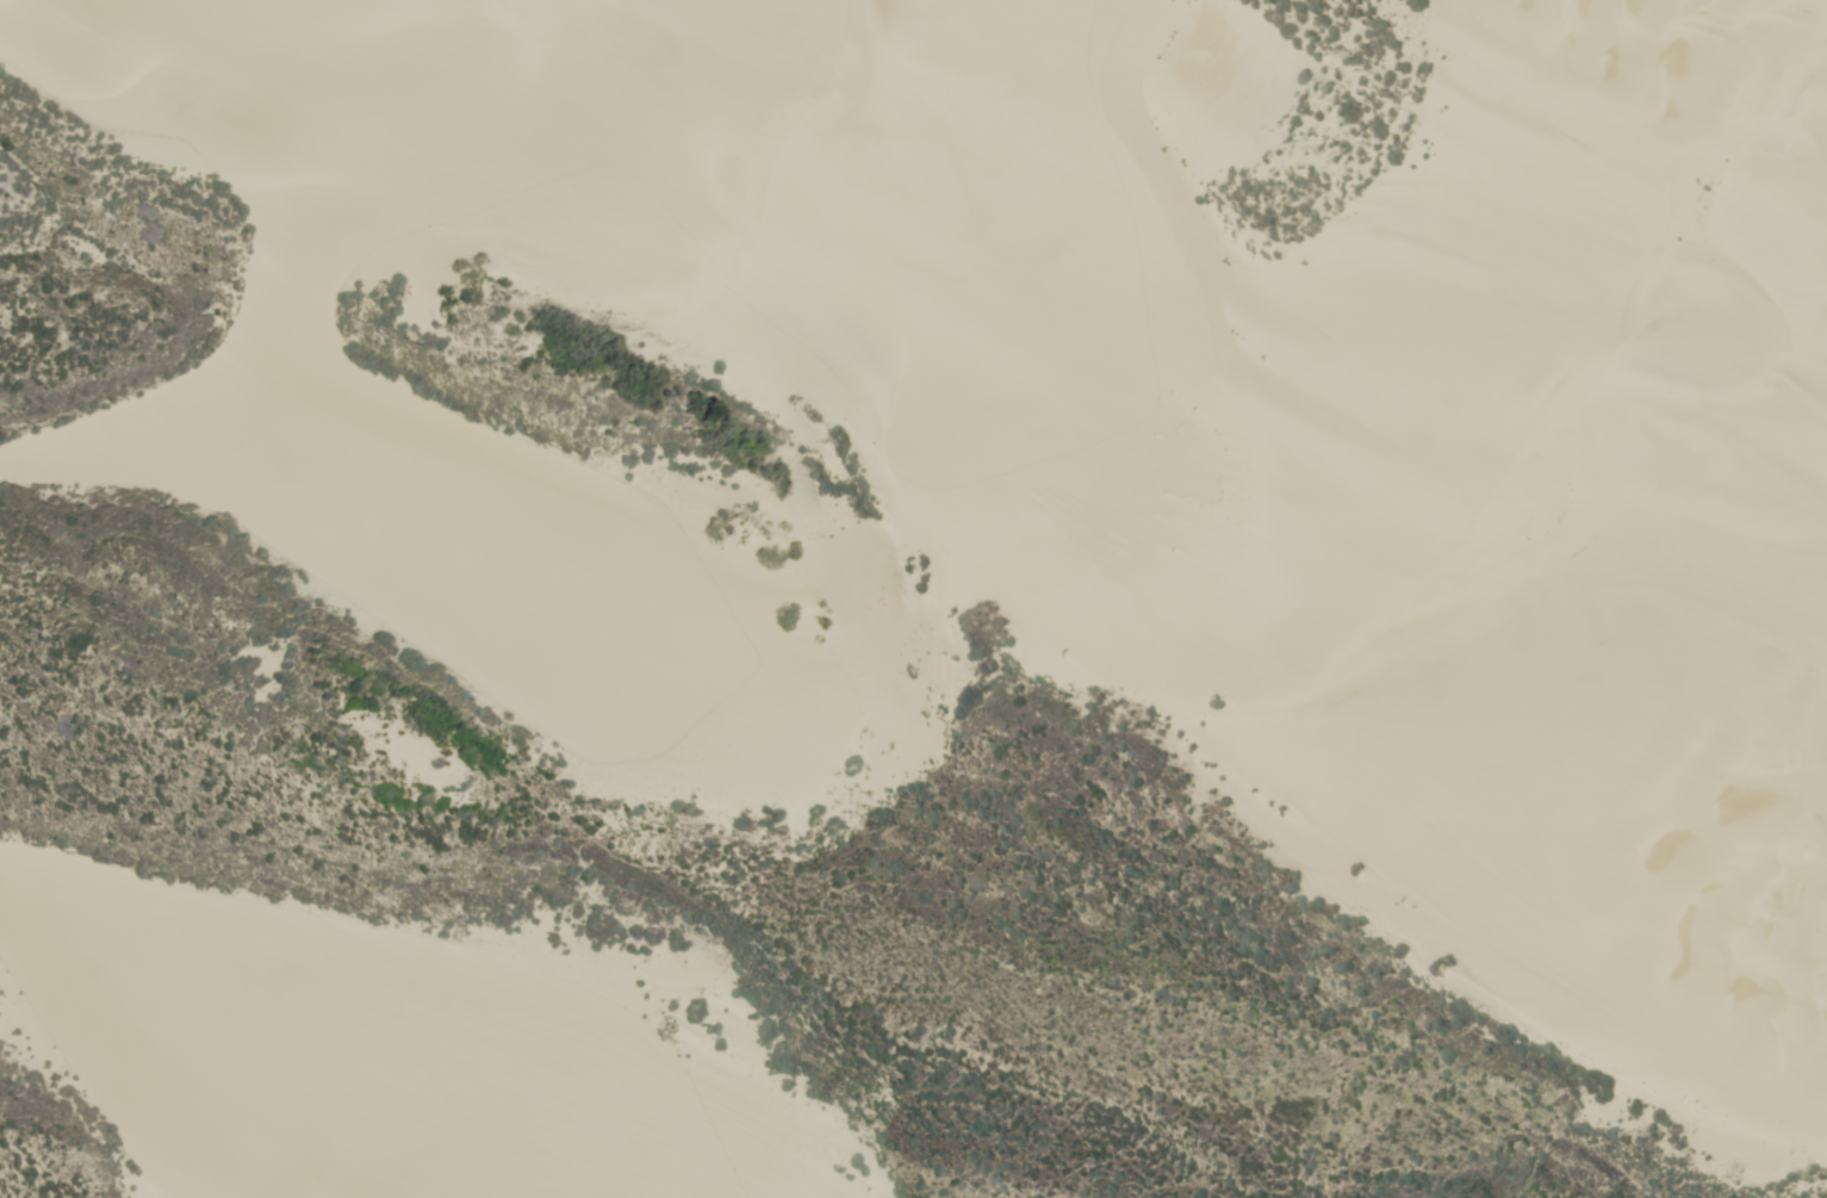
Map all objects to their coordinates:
park: (930, 589)

